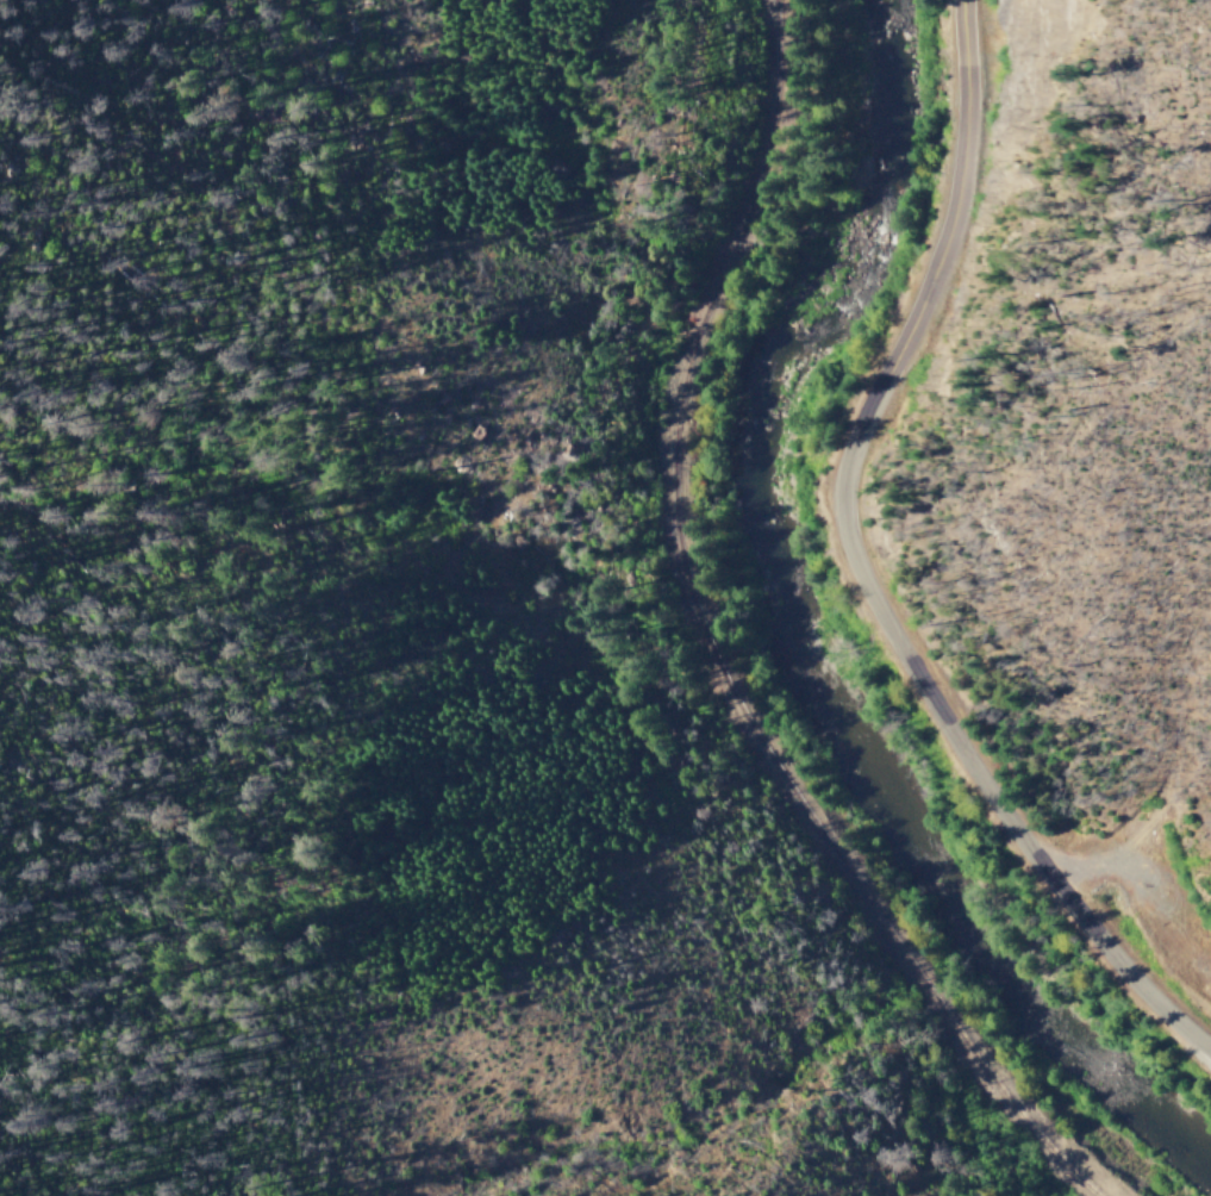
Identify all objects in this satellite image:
road: (857, 569)
railway: (710, 647)

